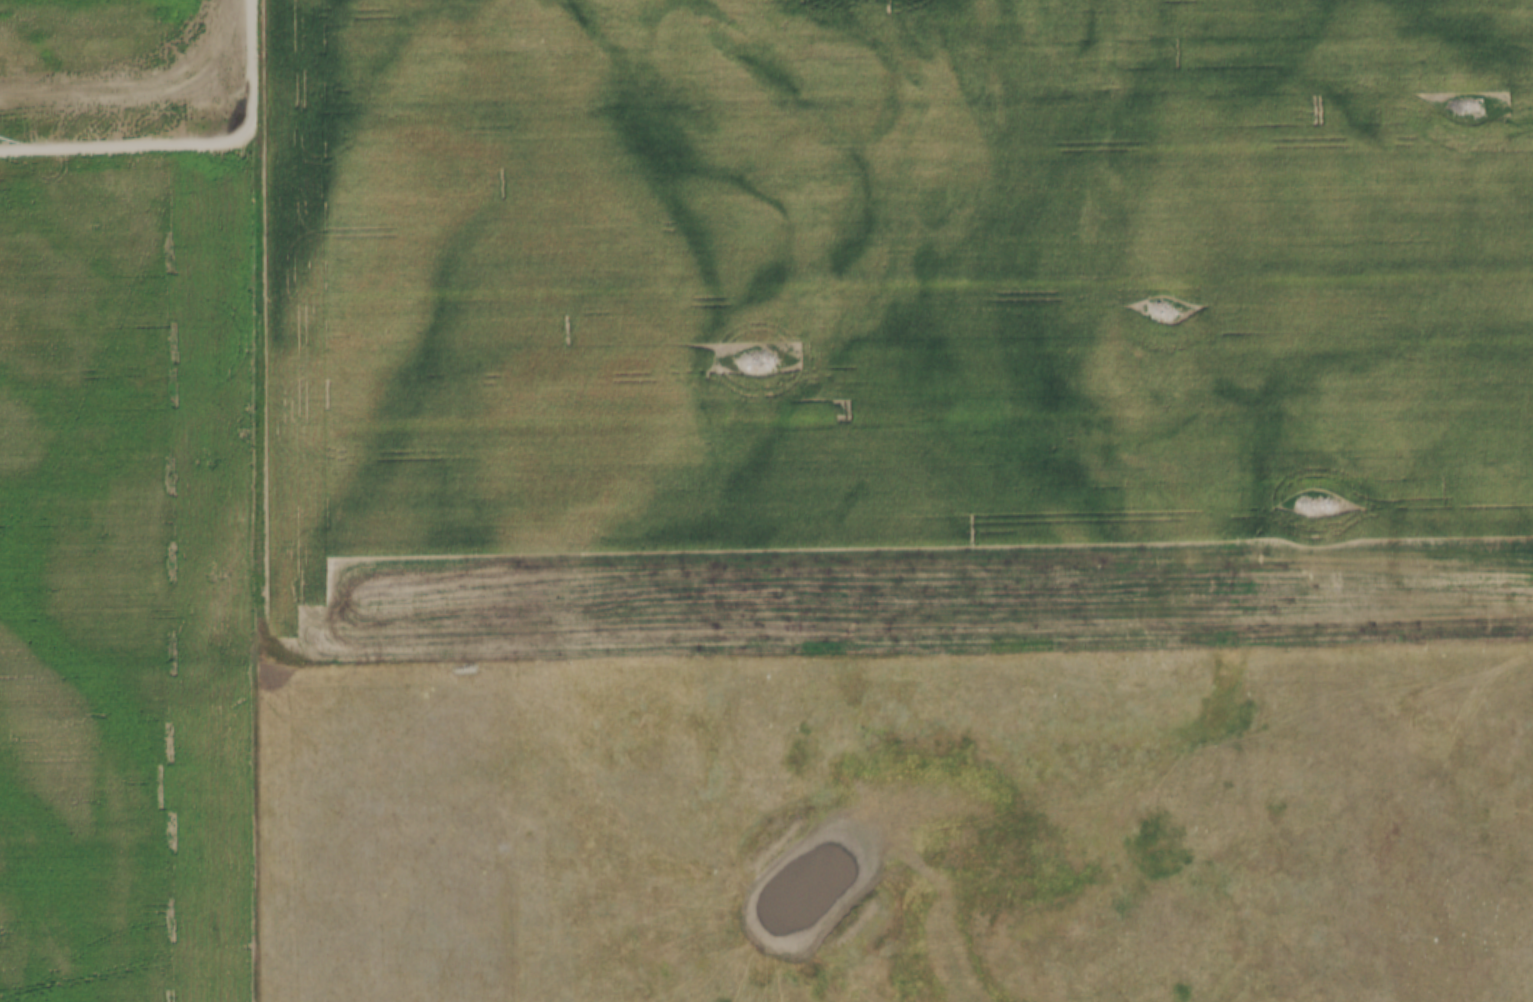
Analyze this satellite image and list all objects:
road: (262, 324)
road: (765, 634)

